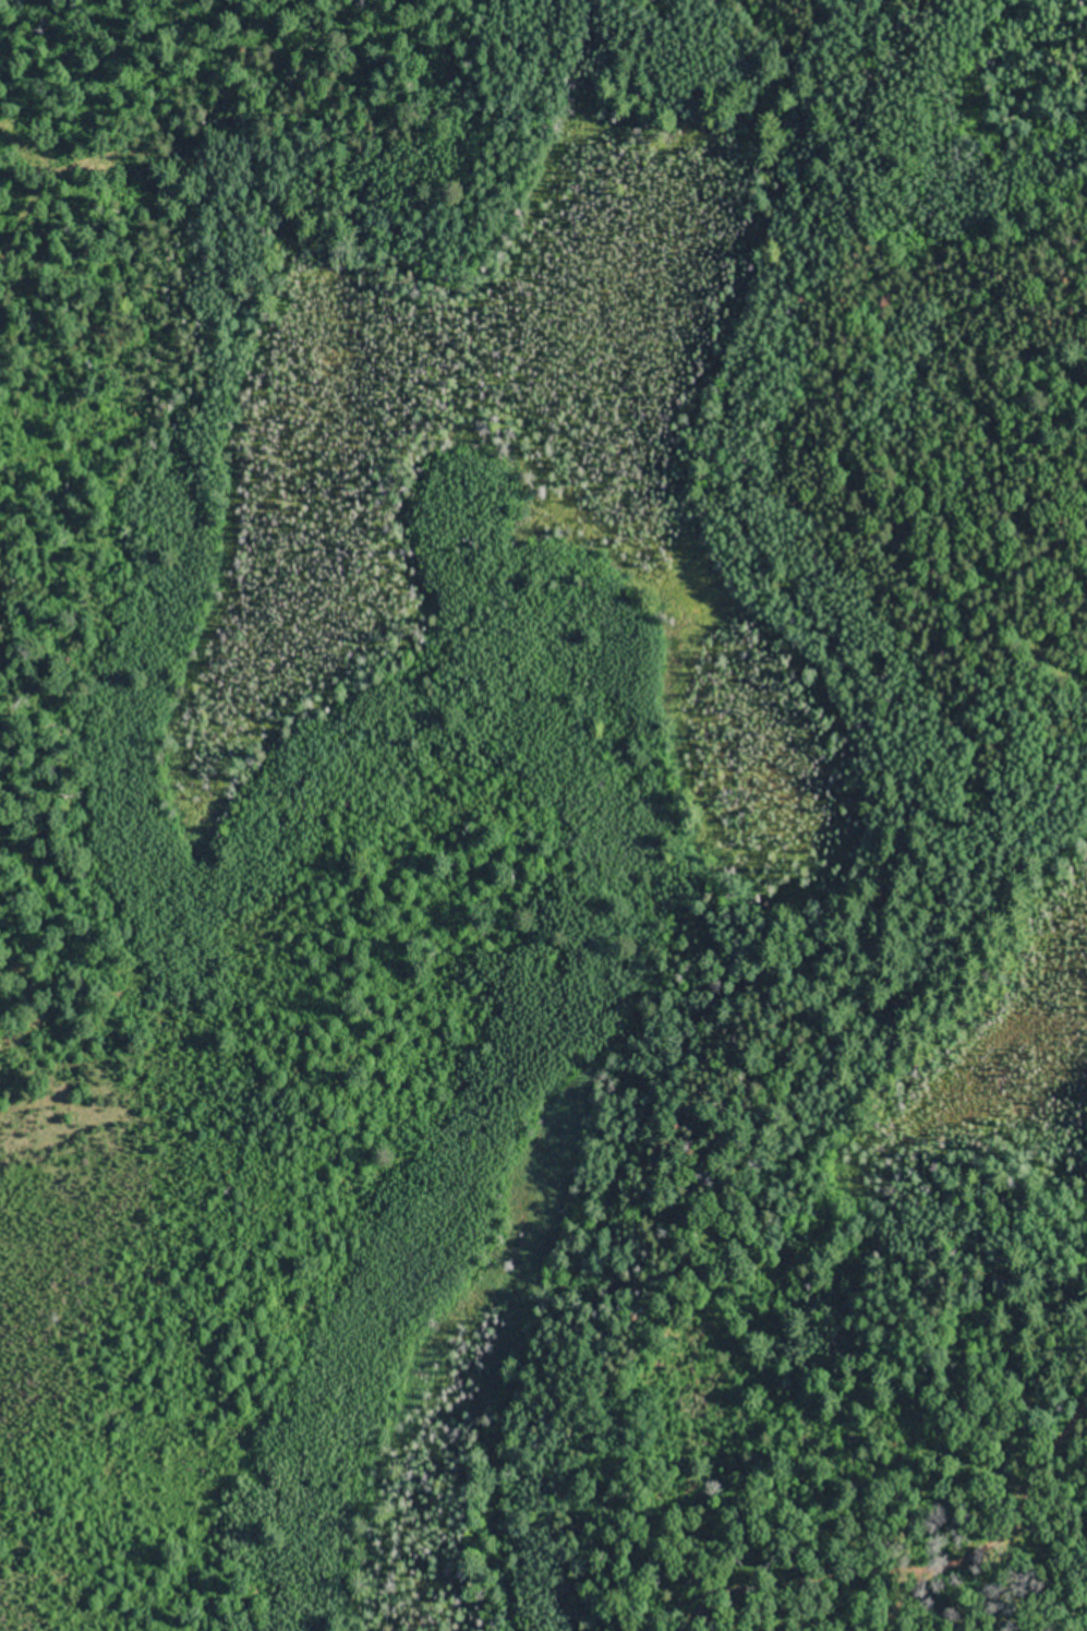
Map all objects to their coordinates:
road: (302, 148)
road: (882, 866)
road: (1014, 1504)

